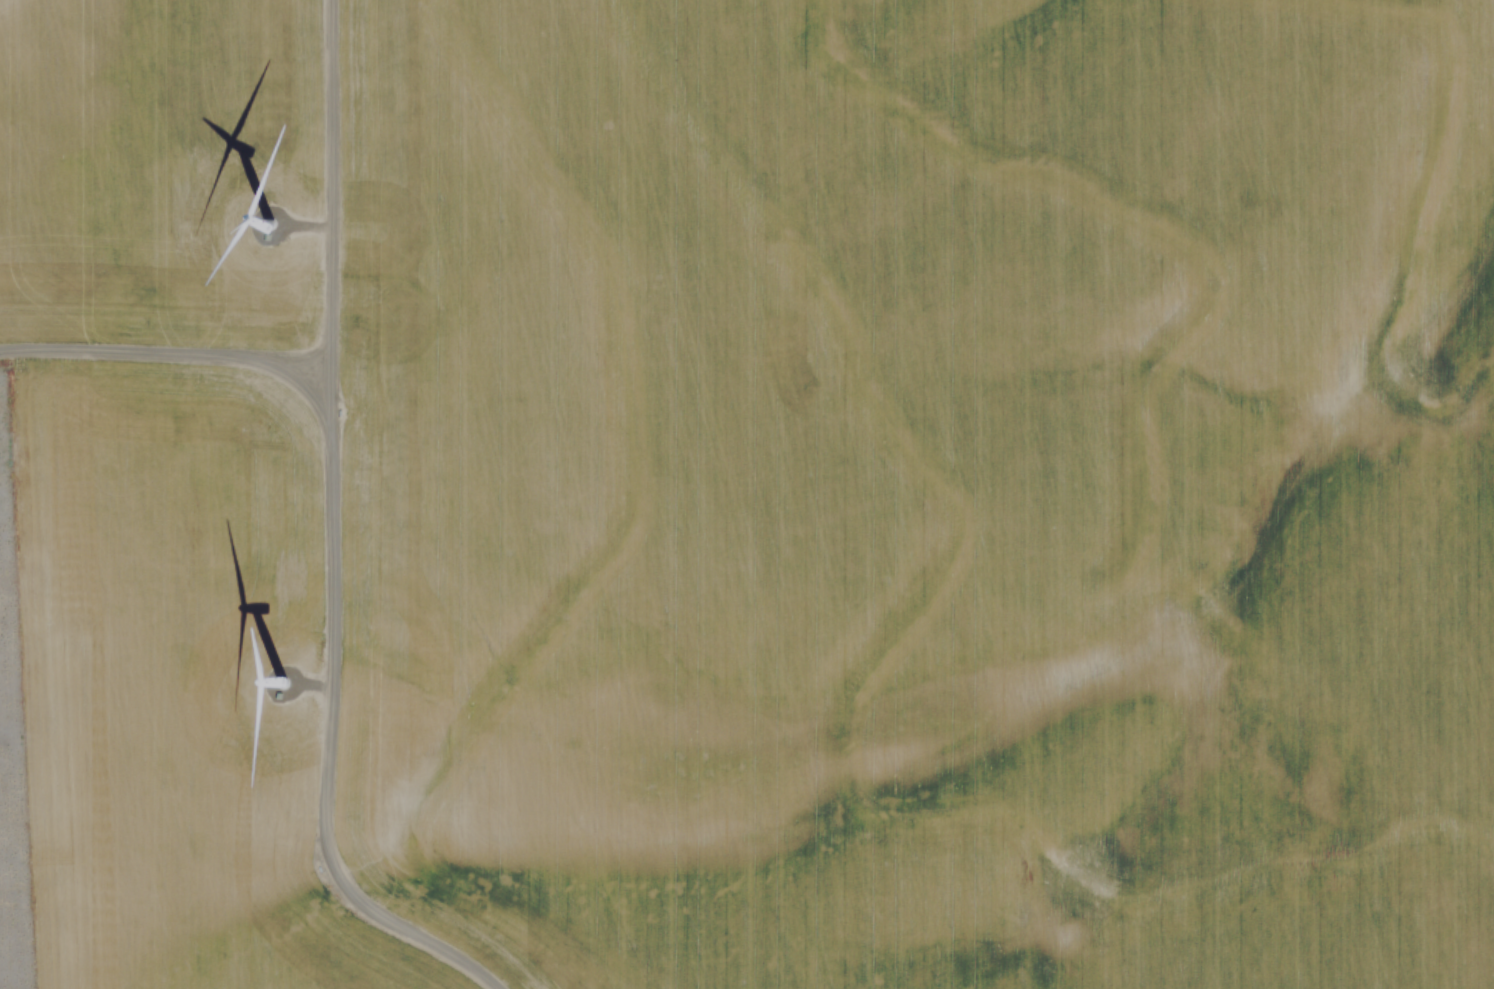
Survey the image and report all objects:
wind turbine: (259, 227)
road: (165, 341)
road: (329, 539)
wind turbine: (286, 694)

